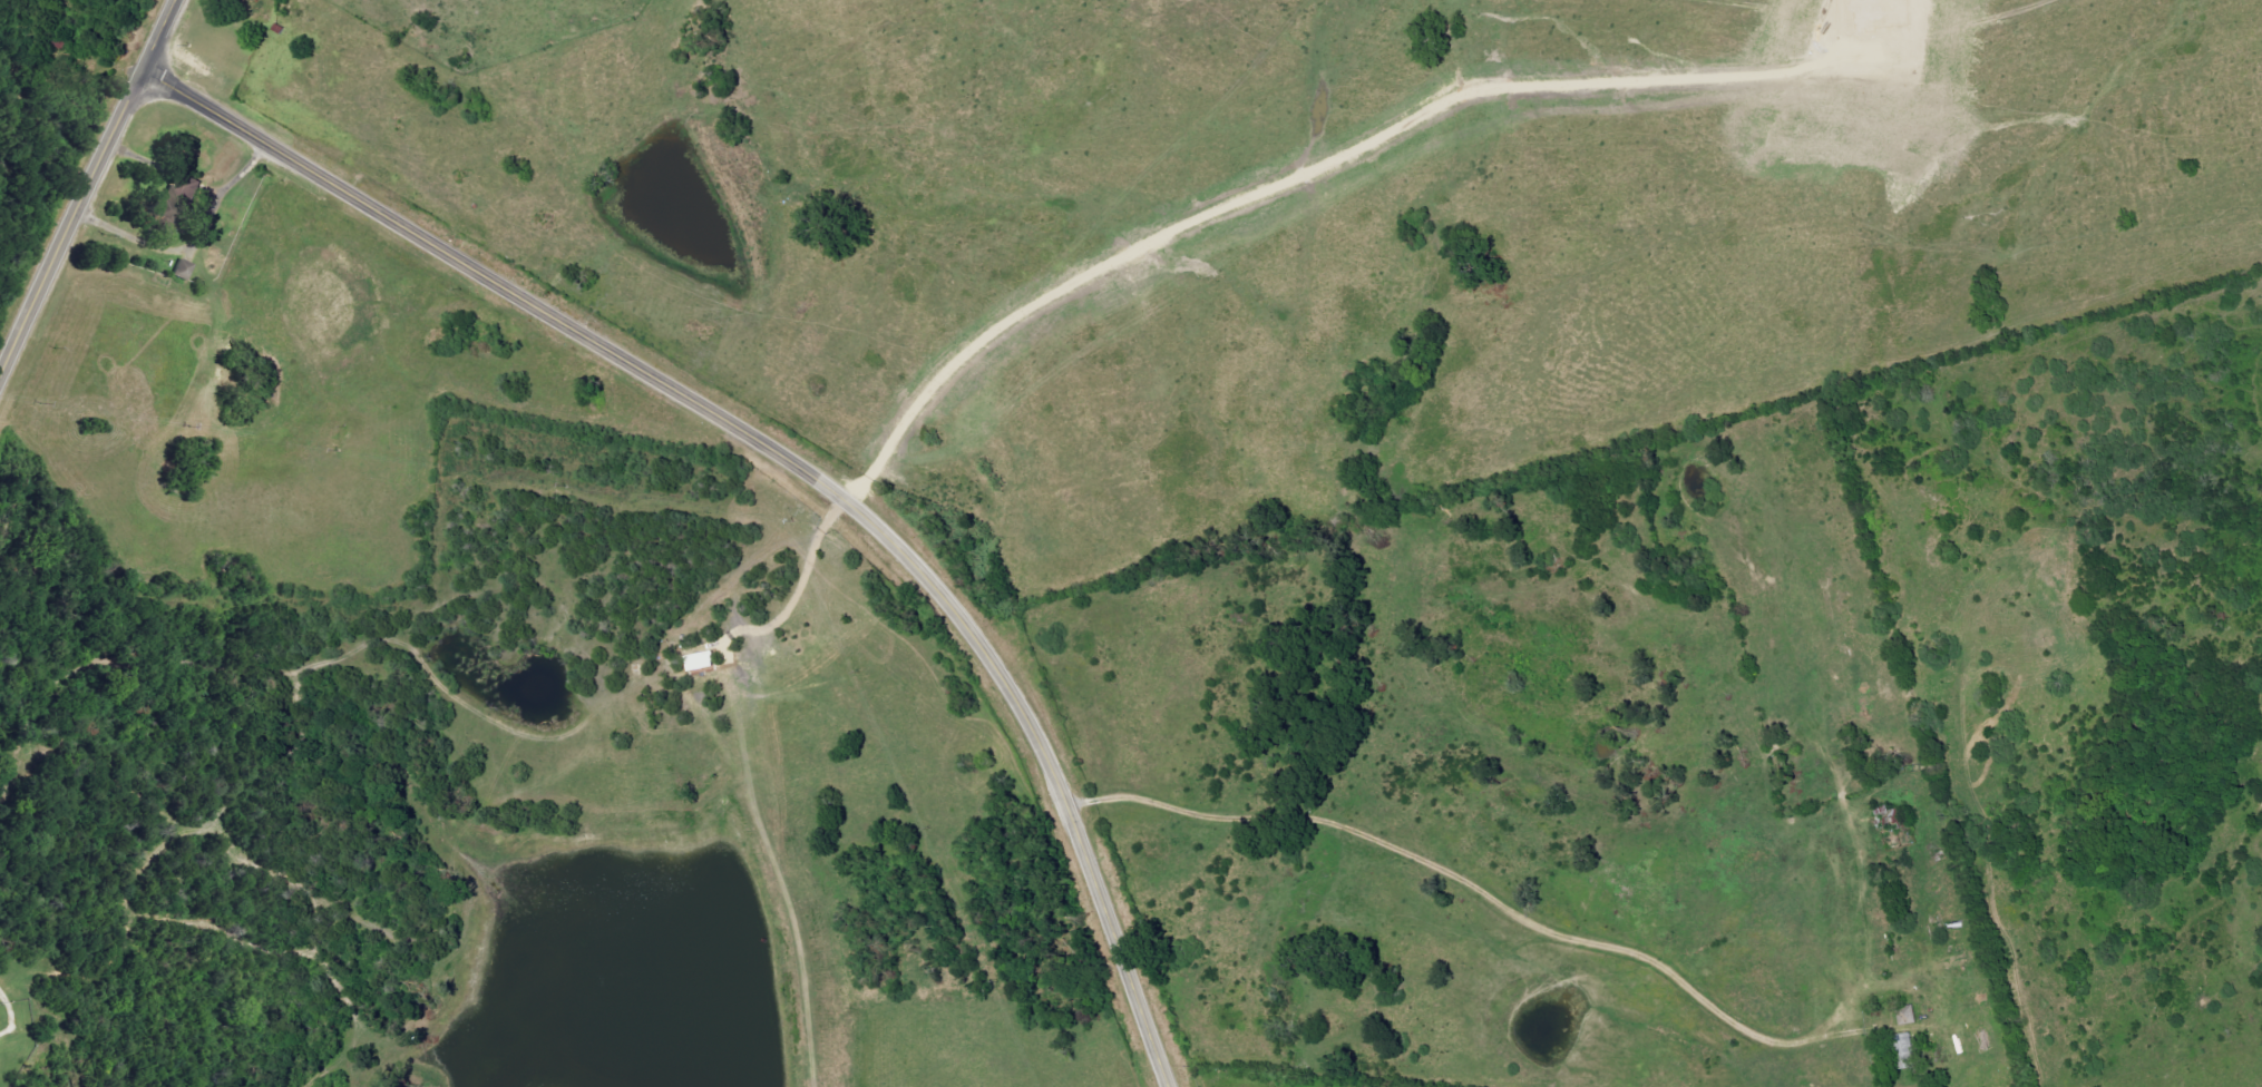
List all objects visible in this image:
road: (89, 190)
building: (184, 268)
road: (788, 459)
road: (1480, 891)
building: (1904, 1015)
building: (1902, 1049)

